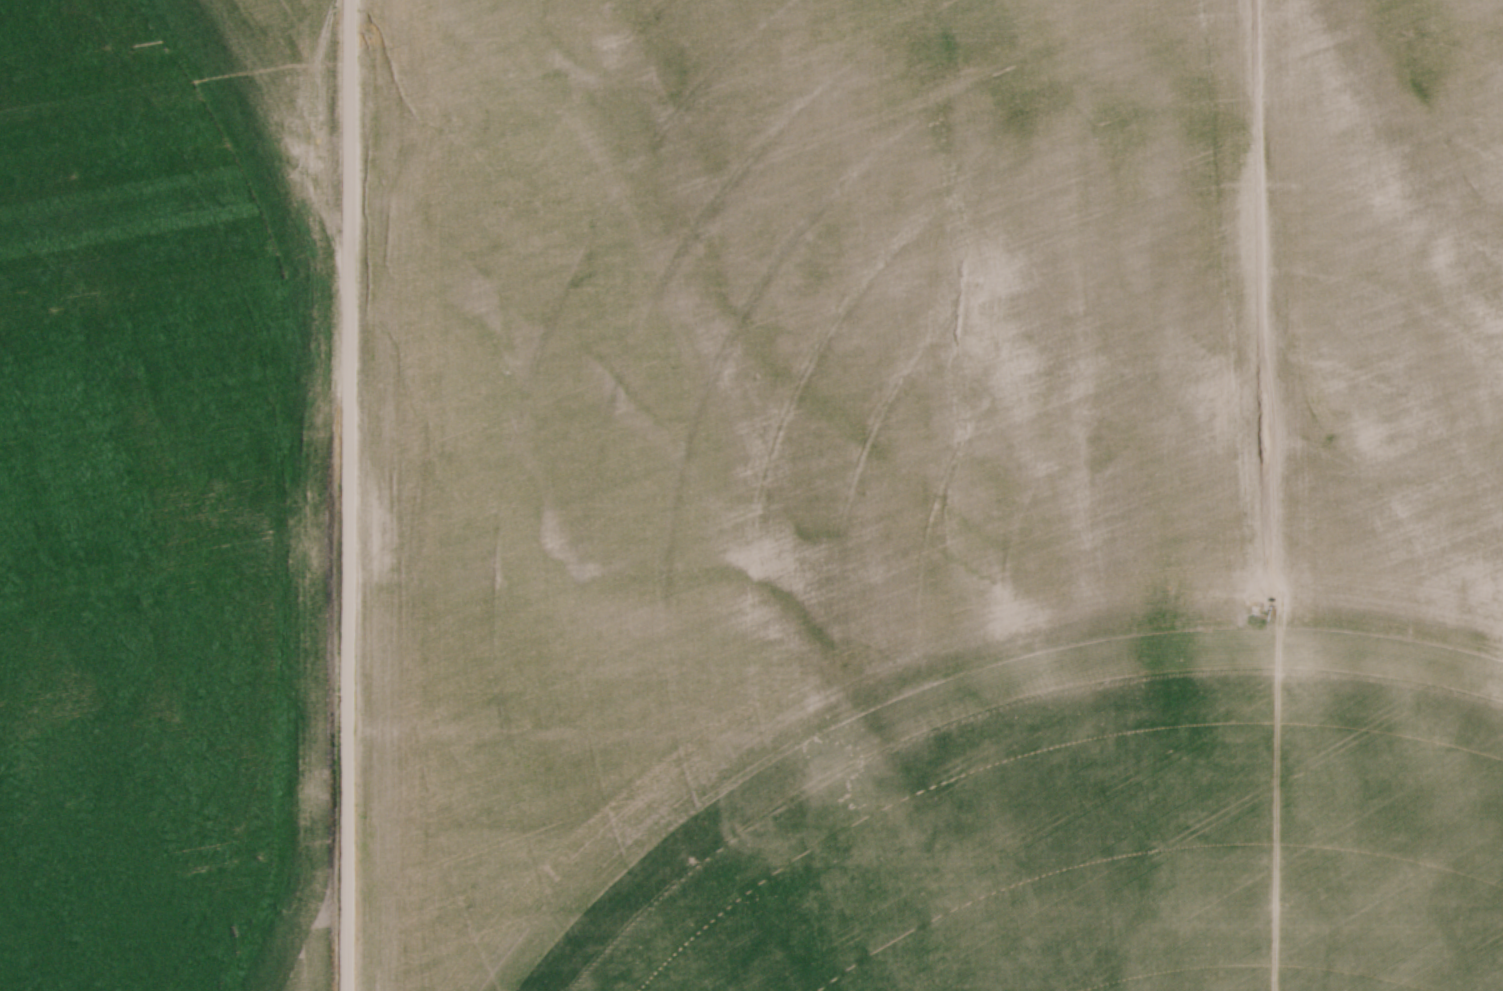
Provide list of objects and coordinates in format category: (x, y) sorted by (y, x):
road: (349, 495)

